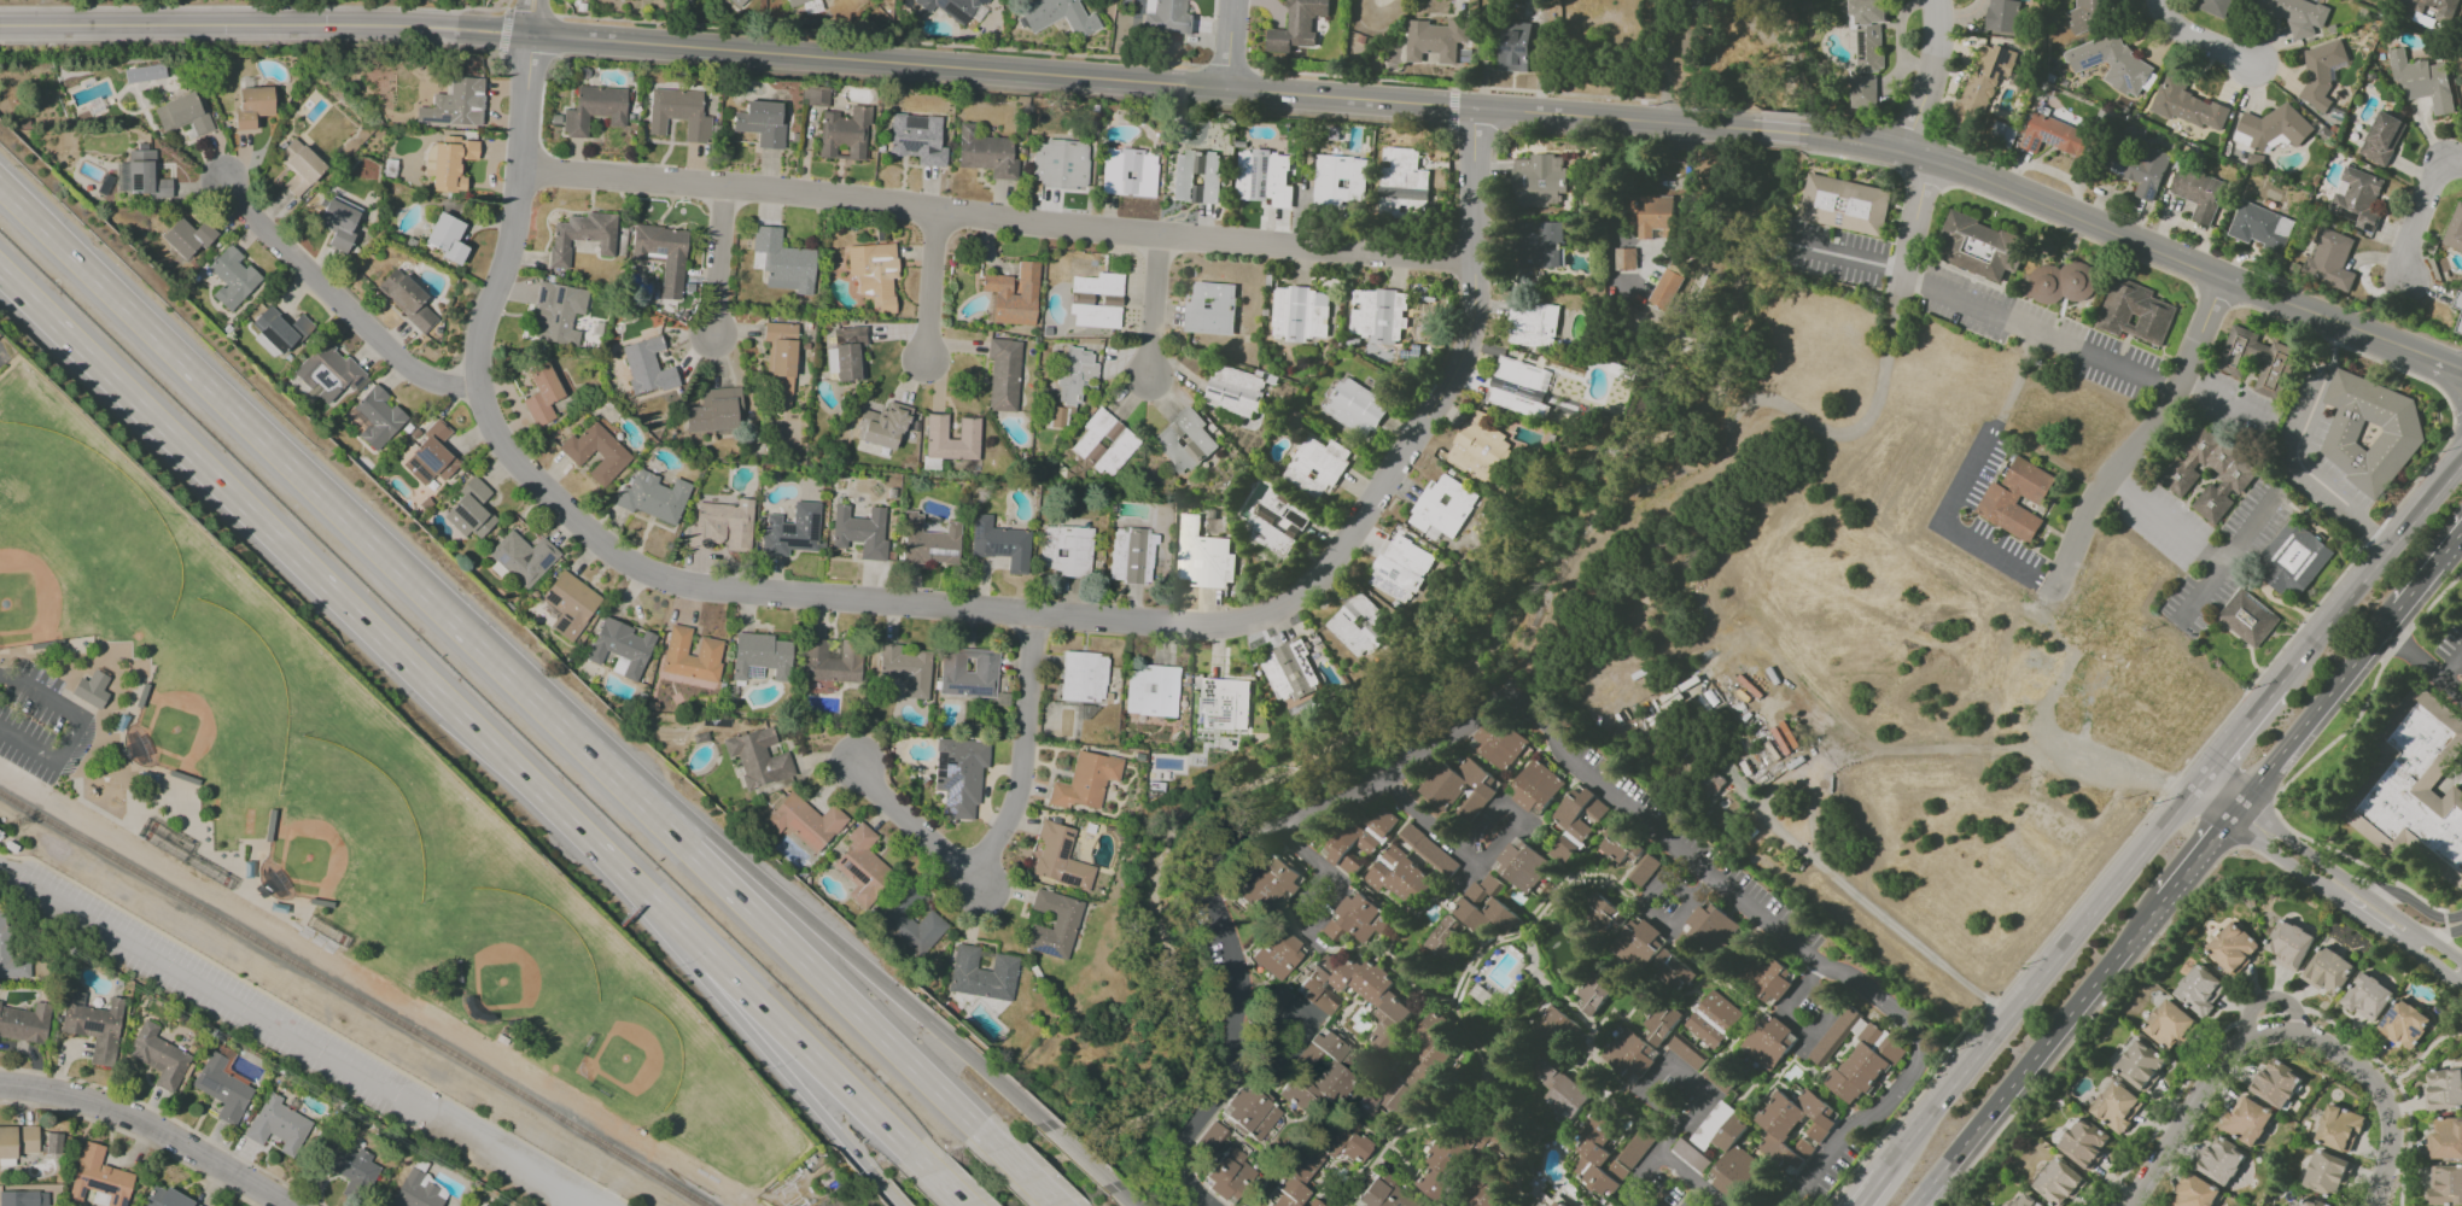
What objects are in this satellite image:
building: (736, 2)
building: (742, 2)
building: (797, 2)
building: (2211, 6)
road: (253, 7)
building: (957, 7)
building: (2432, 10)
road: (530, 11)
building: (2298, 13)
road: (530, 16)
building: (1168, 16)
building: (2002, 16)
building: (2087, 16)
building: (1057, 21)
building: (1299, 25)
road: (502, 31)
rooftop solar panel: (1413, 31)
building: (1867, 34)
road: (2201, 36)
road: (877, 40)
building: (1436, 41)
rooftop solar panel: (1861, 41)
road: (1227, 43)
building: (1515, 47)
building: (1696, 47)
road: (880, 59)
rooftop solar panel: (1865, 59)
rooftop solar panel: (2000, 60)
road: (1668, 62)
building: (2112, 63)
rooftop solar panel: (2094, 65)
road: (1226, 68)
rooftop solar panel: (1869, 69)
building: (2321, 71)
building: (142, 74)
road: (1930, 77)
building: (2422, 80)
rooftop solar panel: (2128, 81)
building: (1982, 83)
road: (1460, 84)
building: (1862, 90)
building: (815, 96)
road: (1715, 103)
building: (454, 104)
building: (2186, 104)
building: (251, 107)
building: (593, 110)
road: (1451, 111)
building: (677, 113)
road: (1779, 113)
building: (182, 115)
rooftop solar panel: (436, 121)
building: (759, 123)
building: (2271, 128)
road: (1778, 130)
building: (842, 133)
rooftop solar panel: (2053, 134)
building: (2054, 134)
building: (2382, 137)
building: (915, 139)
rooftop solar panel: (2028, 142)
rooftop solar panel: (2036, 142)
road: (1777, 146)
building: (984, 153)
road: (1850, 157)
building: (448, 163)
building: (1058, 164)
building: (299, 168)
rooftop solar panel: (1330, 168)
rooftop solar panel: (2117, 168)
building: (2141, 169)
building: (1127, 172)
building: (145, 175)
building: (1196, 176)
building: (1264, 177)
road: (1924, 178)
building: (1340, 180)
building: (1539, 180)
rooftop solar panel: (1328, 181)
rooftop solar panel: (134, 182)
building: (1402, 182)
building: (2198, 192)
rooftop solar panel: (2151, 193)
building: (2356, 198)
building: (1846, 205)
road: (2419, 212)
building: (1655, 213)
road: (997, 216)
building: (338, 222)
building: (2260, 226)
building: (2455, 229)
road: (2116, 233)
building: (581, 235)
building: (445, 238)
building: (186, 239)
building: (1541, 244)
building: (1978, 245)
building: (660, 256)
building: (1626, 258)
road: (1850, 258)
building: (2329, 259)
road: (727, 260)
building: (783, 262)
building: (873, 274)
building: (231, 277)
building: (2063, 282)
road: (937, 285)
building: (1665, 288)
building: (1013, 294)
road: (340, 297)
building: (406, 299)
building: (1095, 300)
road: (1162, 306)
building: (1210, 308)
building: (556, 312)
building: (1300, 312)
building: (2137, 312)
building: (1378, 314)
building: (2460, 321)
building: (1533, 323)
building: (280, 329)
road: (2040, 329)
road: (1888, 352)
building: (847, 353)
building: (2276, 359)
road: (2445, 361)
building: (778, 362)
building: (646, 367)
building: (327, 373)
building: (1073, 374)
building: (1002, 375)
road: (2448, 382)
building: (1519, 386)
rooftop solar panel: (1214, 390)
building: (1235, 390)
building: (541, 393)
rooftop solar panel: (1227, 396)
building: (1358, 404)
building: (713, 411)
road: (2457, 416)
building: (1055, 417)
building: (883, 425)
building: (967, 428)
building: (2369, 431)
road: (2142, 434)
road: (266, 440)
building: (1184, 440)
building: (1103, 443)
building: (1480, 447)
road: (2295, 449)
building: (612, 453)
building: (430, 456)
rooftop solar panel: (425, 457)
building: (1317, 466)
rooftop solar panel: (418, 470)
building: (2177, 475)
road: (1962, 481)
road: (2116, 482)
building: (2018, 496)
building: (653, 497)
rooftop solar panel: (1445, 502)
building: (1442, 507)
building: (469, 510)
rooftop solar panel: (465, 516)
building: (1277, 522)
building: (722, 525)
road: (2175, 527)
building: (790, 531)
building: (859, 531)
park: (76, 541)
building: (928, 541)
building: (999, 544)
building: (1063, 550)
building: (1203, 555)
road: (2229, 556)
building: (523, 558)
building: (2294, 558)
rooftop solar panel: (503, 561)
rooftop solar panel: (543, 561)
rooftop solar panel: (1198, 562)
road: (2429, 567)
building: (1401, 568)
road: (2368, 572)
rooftop solar panel: (1394, 575)
park: (168, 584)
road: (321, 584)
rooftop solar panel: (1394, 584)
rooftop solar panel: (552, 599)
building: (568, 604)
road: (933, 605)
road: (2309, 611)
building: (2250, 617)
rooftop solar panel: (561, 624)
building: (1358, 625)
building: (620, 648)
building: (690, 657)
building: (759, 657)
road: (2421, 661)
building: (830, 662)
road: (2451, 666)
building: (905, 668)
building: (967, 672)
building: (1290, 673)
building: (1083, 677)
road: (2371, 689)
building: (92, 690)
building: (1151, 691)
park: (214, 702)
building: (1224, 703)
road: (2315, 709)
road: (1540, 715)
parking lot: (37, 721)
road: (75, 728)
park: (310, 728)
road: (2234, 736)
building: (1497, 743)
road: (1995, 749)
building: (757, 757)
road: (596, 761)
rooftop solar panel: (938, 763)
rooftop solar panel: (947, 773)
road: (2236, 773)
building: (958, 774)
building: (1084, 780)
rooftop solar panel: (947, 783)
building: (1711, 784)
building: (1535, 785)
building: (2414, 788)
building: (1459, 789)
rooftop solar panel: (949, 791)
rooftop solar panel: (949, 803)
park: (337, 814)
road: (1007, 816)
building: (1567, 820)
building: (804, 821)
road: (2256, 822)
park: (342, 833)
rooftop solar panel: (1066, 836)
road: (1440, 837)
building: (1357, 841)
building: (1621, 845)
building: (1427, 849)
rooftop solar panel: (1062, 850)
road: (2198, 855)
building: (1058, 857)
road: (2352, 859)
building: (1519, 863)
building: (862, 867)
building: (1643, 868)
building: (1398, 876)
rooftop solar panel: (1066, 879)
road: (2328, 880)
building: (1272, 885)
park: (472, 895)
road: (2406, 897)
building: (1483, 906)
road: (1322, 908)
road: (799, 912)
building: (1602, 913)
road: (1656, 915)
road: (1880, 915)
road: (666, 917)
building: (1357, 918)
road: (2170, 918)
building: (910, 921)
building: (1052, 924)
road: (2083, 924)
road: (2445, 925)
building: (1710, 930)
building: (4, 933)
road: (2435, 933)
building: (1446, 937)
building: (2288, 943)
building: (2231, 947)
rooftop solar panel: (1044, 953)
building: (1278, 954)
building: (1652, 954)
park: (519, 958)
building: (2328, 970)
building: (981, 974)
building: (1767, 977)
road: (830, 987)
building: (2199, 989)
building: (1594, 993)
building: (1358, 995)
building: (2367, 996)
road: (2268, 997)
railway: (351, 1000)
road: (1991, 1002)
building: (1272, 1005)
rooftop solar panel: (2390, 1014)
building: (1713, 1019)
traffic signals: (927, 1020)
building: (1661, 1021)
building: (24, 1023)
road: (316, 1023)
building: (2403, 1023)
building: (2169, 1024)
building: (93, 1026)
road: (2277, 1031)
rooftop solar panel: (2415, 1031)
parking lot: (302, 1038)
park: (636, 1040)
building: (1768, 1041)
building: (1686, 1050)
road: (2037, 1052)
building: (1628, 1054)
road: (811, 1055)
building: (157, 1056)
building: (1556, 1062)
road: (1672, 1064)
building: (2140, 1064)
road: (778, 1065)
building: (1268, 1071)
building: (1323, 1071)
building: (1411, 1072)
road: (988, 1075)
building: (2275, 1082)
building: (221, 1088)
building: (2443, 1088)
building: (2117, 1106)
building: (1252, 1113)
road: (1930, 1116)
building: (2246, 1119)
building: (278, 1126)
building: (1793, 1126)
building: (2339, 1128)
road: (148, 1129)
building: (1210, 1138)
building: (1486, 1138)
building: (2445, 1138)
building: (17, 1141)
building: (2084, 1142)
building: (51, 1143)
building: (1635, 1148)
building: (1728, 1149)
building: (1597, 1155)
road: (1080, 1157)
building: (1313, 1160)
building: (2221, 1160)
building: (350, 1165)
building: (1440, 1167)
road: (1646, 1167)
building: (1227, 1173)
building: (2327, 1173)
road: (1026, 1175)
building: (98, 1177)
road: (1691, 1178)
building: (2058, 1183)
building: (2445, 1184)
road: (1185, 1187)
rooftop solar panel: (100, 1188)
road: (949, 1188)
road: (1874, 1188)
building: (415, 1190)
building: (2194, 1192)
building: (1486, 1193)
road: (891, 1194)
road: (1122, 1194)
building: (164, 1198)
road: (1696, 1198)
building: (23, 1199)
building: (1558, 1201)
building: (2026, 1201)
building: (1313, 1202)
building: (2312, 1202)
road: (1055, 1204)
building: (1700, 1204)
building: (1617, 1205)

